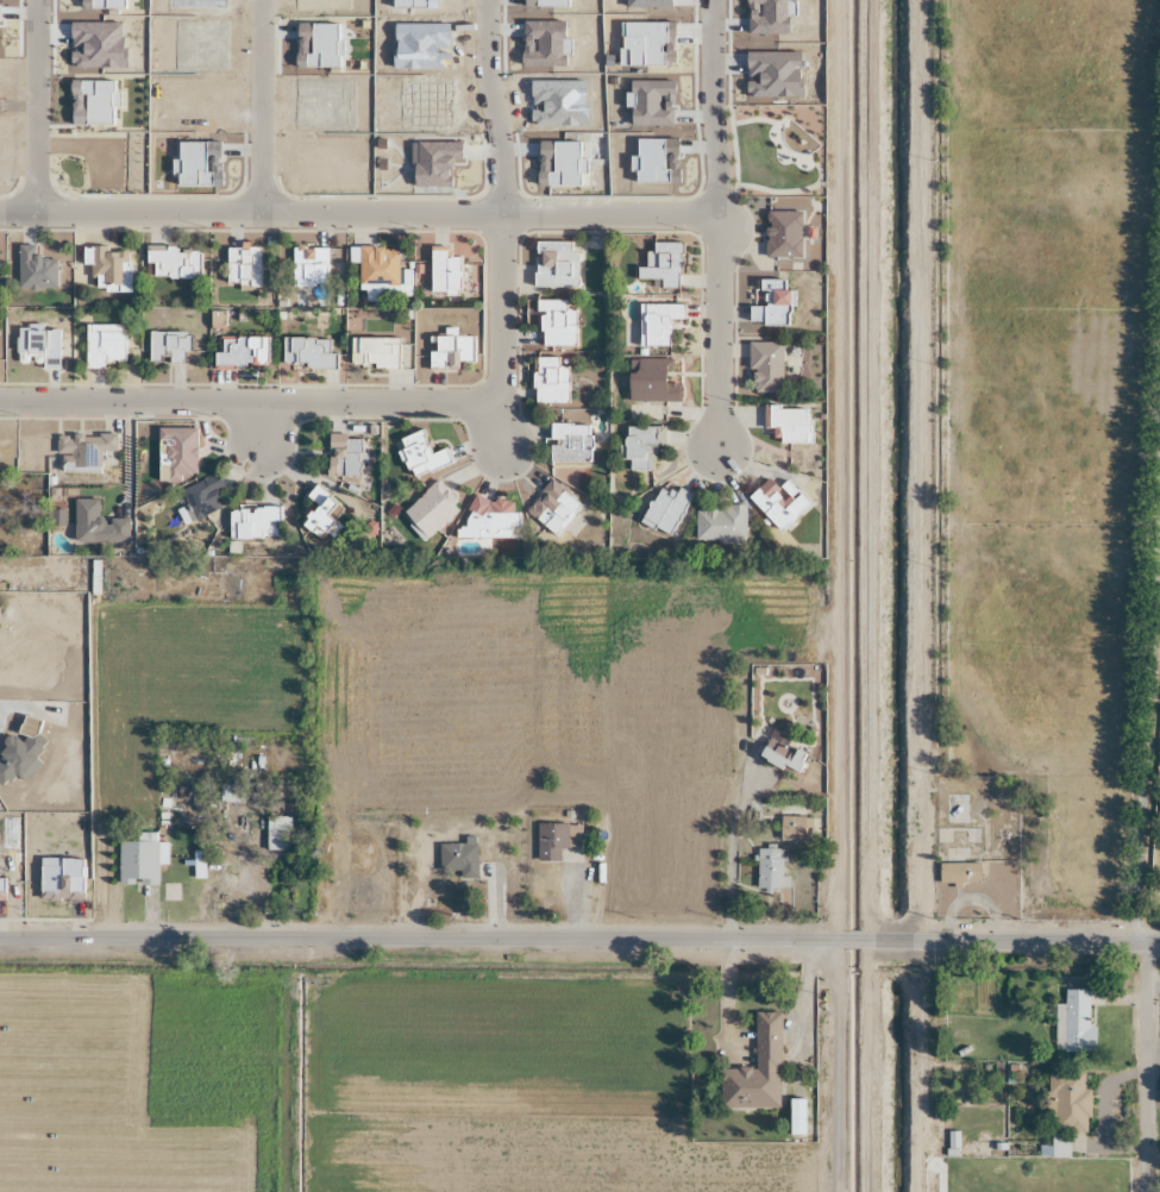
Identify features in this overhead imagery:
crop: (146, 89)
crop: (569, 90)
road: (33, 105)
road: (267, 105)
road: (489, 106)
road: (710, 107)
road: (476, 211)
building: (782, 234)
building: (171, 262)
building: (554, 264)
building: (659, 265)
building: (242, 266)
building: (308, 266)
building: (376, 266)
building: (108, 269)
building: (35, 270)
building: (443, 271)
building: (770, 303)
building: (554, 324)
building: (656, 324)
building: (104, 344)
building: (39, 346)
building: (168, 346)
building: (240, 352)
building: (449, 352)
building: (307, 353)
building: (374, 353)
building: (764, 368)
building: (548, 381)
building: (651, 382)
road: (340, 401)
road: (253, 420)
road: (494, 422)
building: (788, 424)
building: (569, 443)
building: (641, 446)
building: (84, 447)
building: (176, 453)
building: (345, 456)
building: (419, 456)
building: (200, 497)
building: (777, 503)
building: (552, 508)
building: (664, 509)
building: (429, 512)
building: (320, 515)
building: (489, 519)
building: (252, 522)
building: (96, 525)
building: (719, 525)
building: (780, 757)
building: (790, 828)
building: (277, 834)
building: (556, 841)
road: (723, 853)
building: (458, 858)
building: (137, 862)
building: (770, 870)
building: (958, 874)
road: (579, 939)
building: (1076, 1023)
building: (766, 1041)
road: (1148, 1067)
building: (1066, 1103)
building: (795, 1117)

